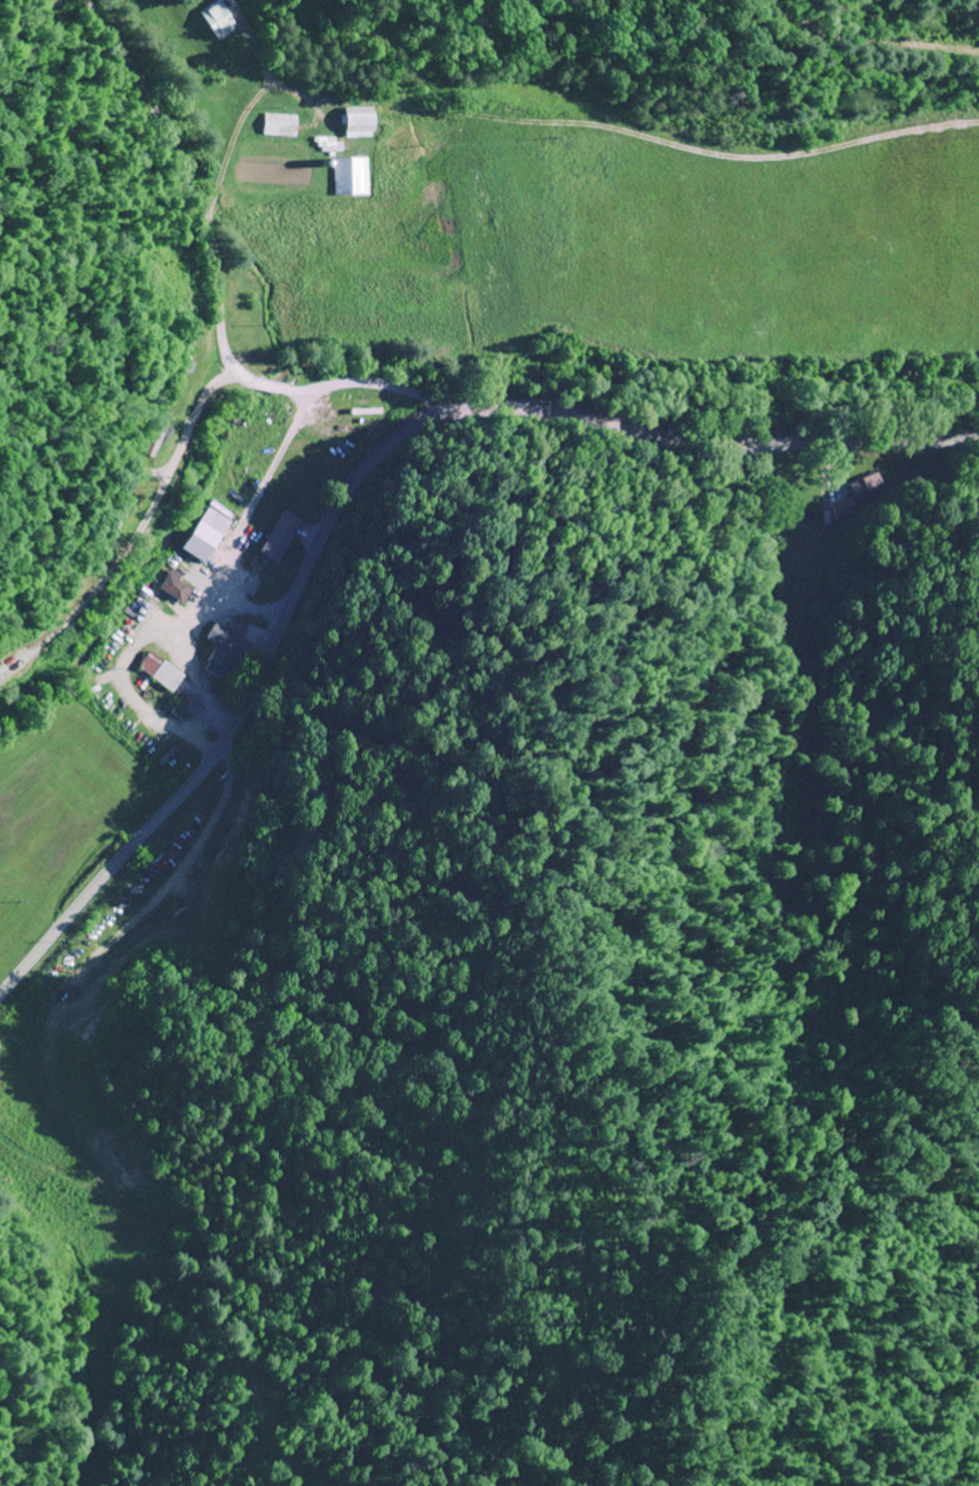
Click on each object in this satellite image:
building: (217, 20)
building: (363, 122)
building: (282, 126)
building: (353, 176)
road: (222, 285)
road: (357, 470)
road: (121, 520)
building: (205, 535)
building: (282, 536)
building: (177, 587)
building: (226, 649)
building: (2, 672)
building: (161, 672)
building: (2, 1097)
building: (12, 1113)
building: (64, 1261)

